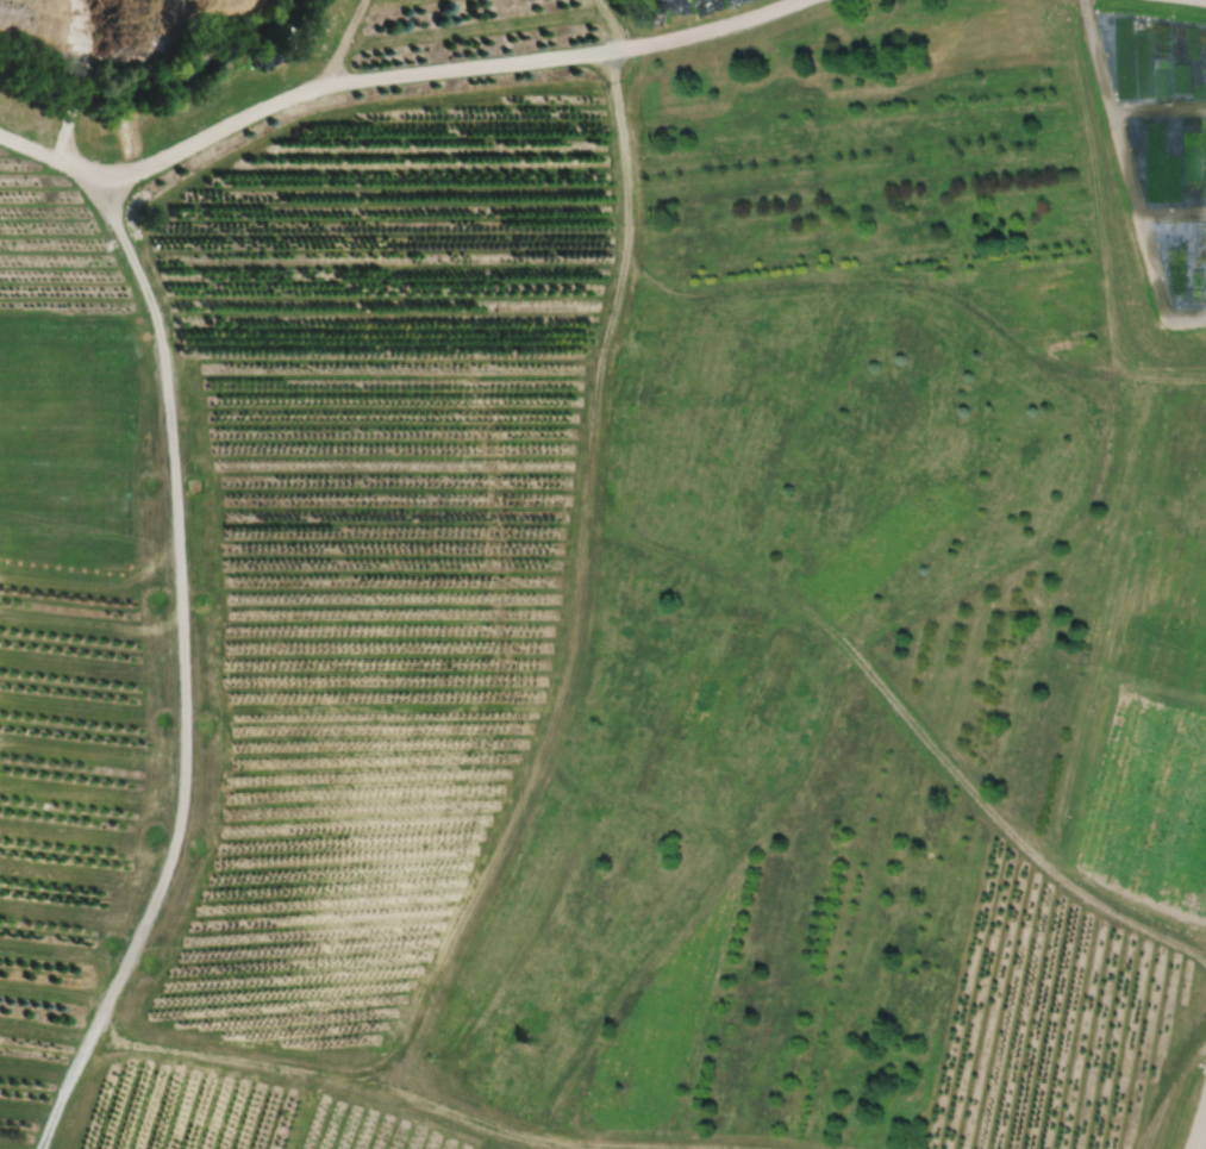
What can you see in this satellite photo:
road: (99, 33)
road: (81, 86)
road: (1158, 368)
road: (180, 629)
road: (1198, 1126)

